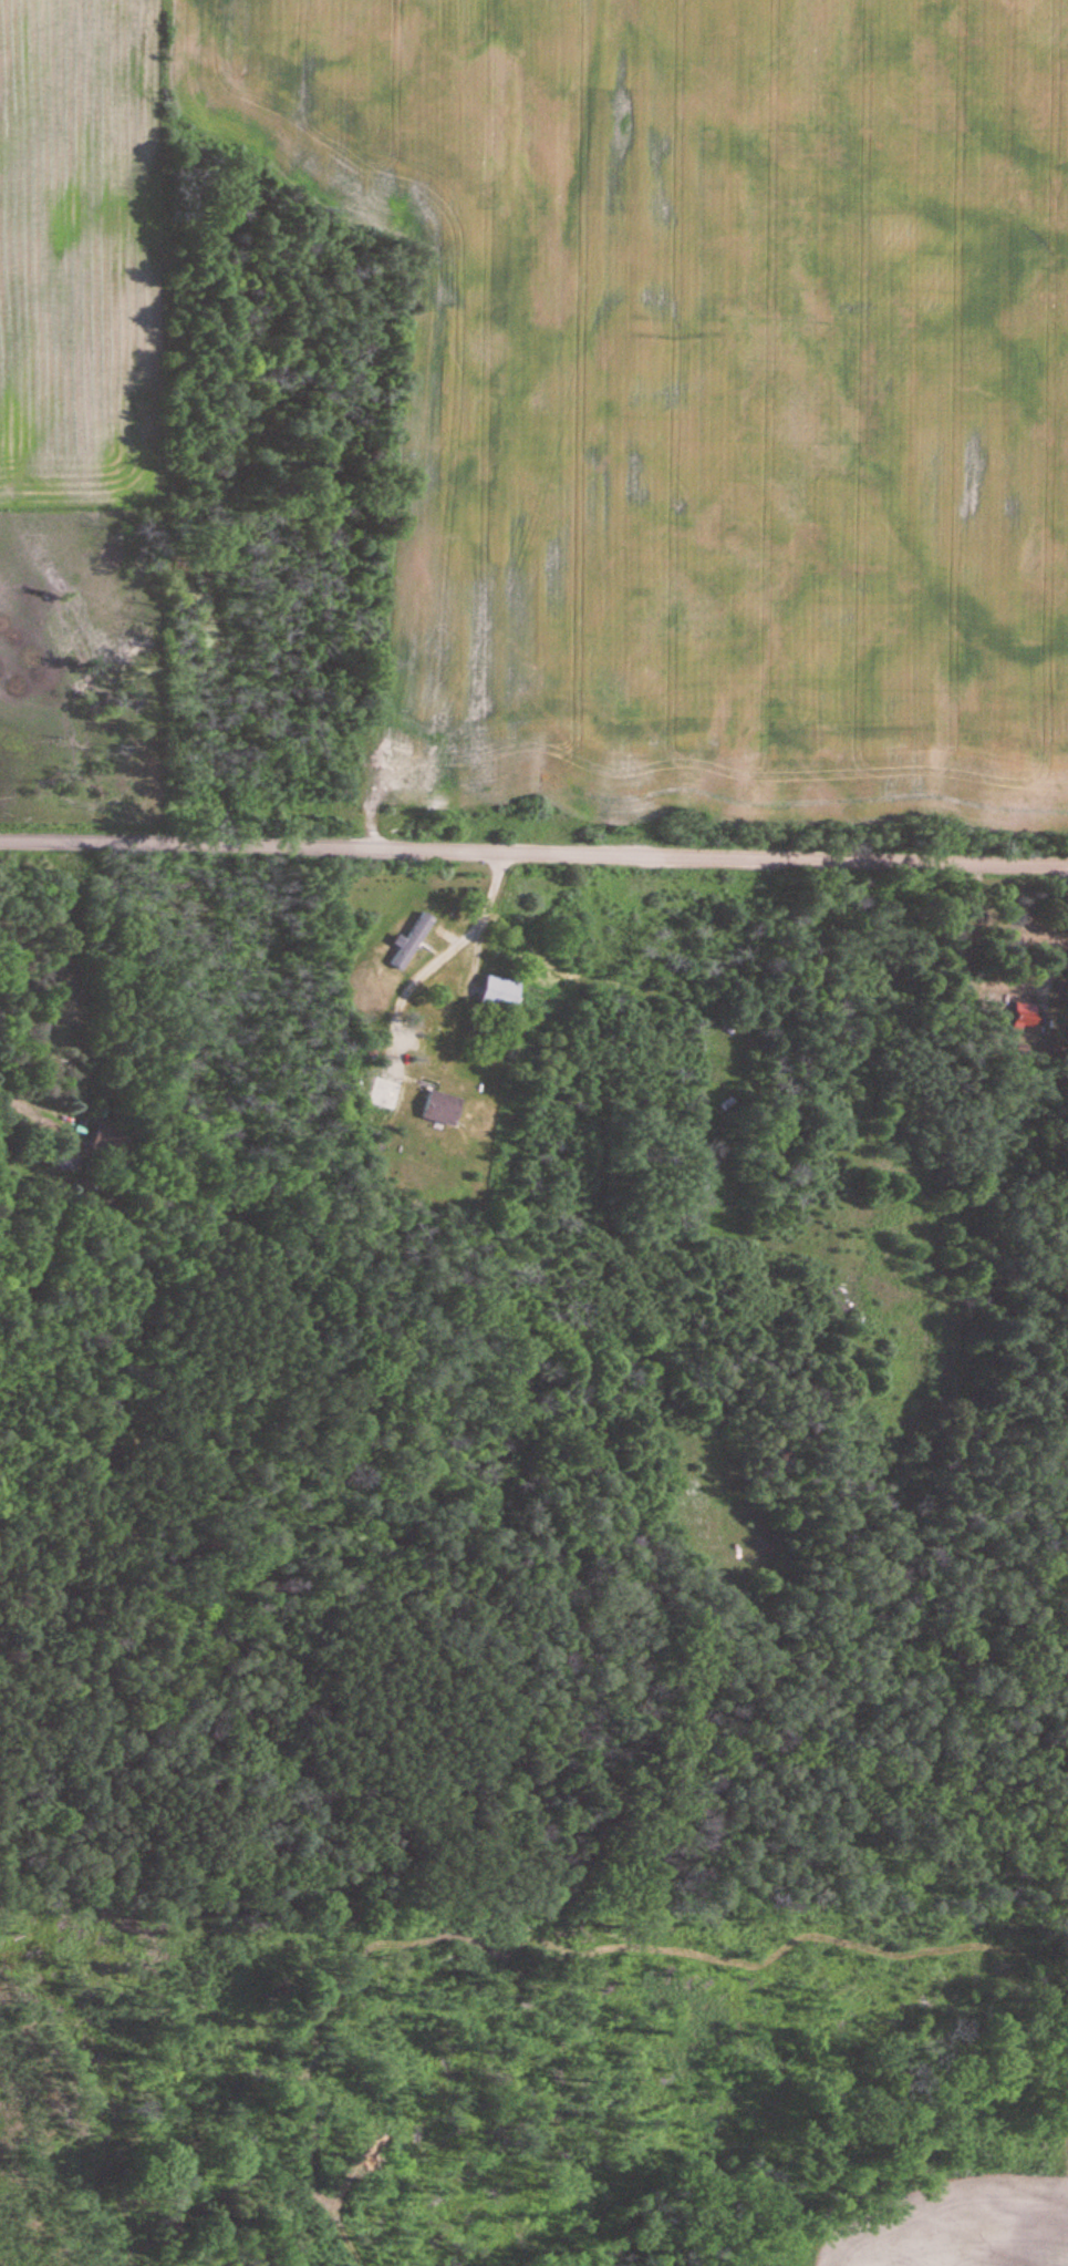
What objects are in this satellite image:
road: (533, 834)
road: (484, 917)
building: (411, 941)
building: (499, 992)
building: (1026, 1014)
building: (442, 1108)
building: (110, 1136)

